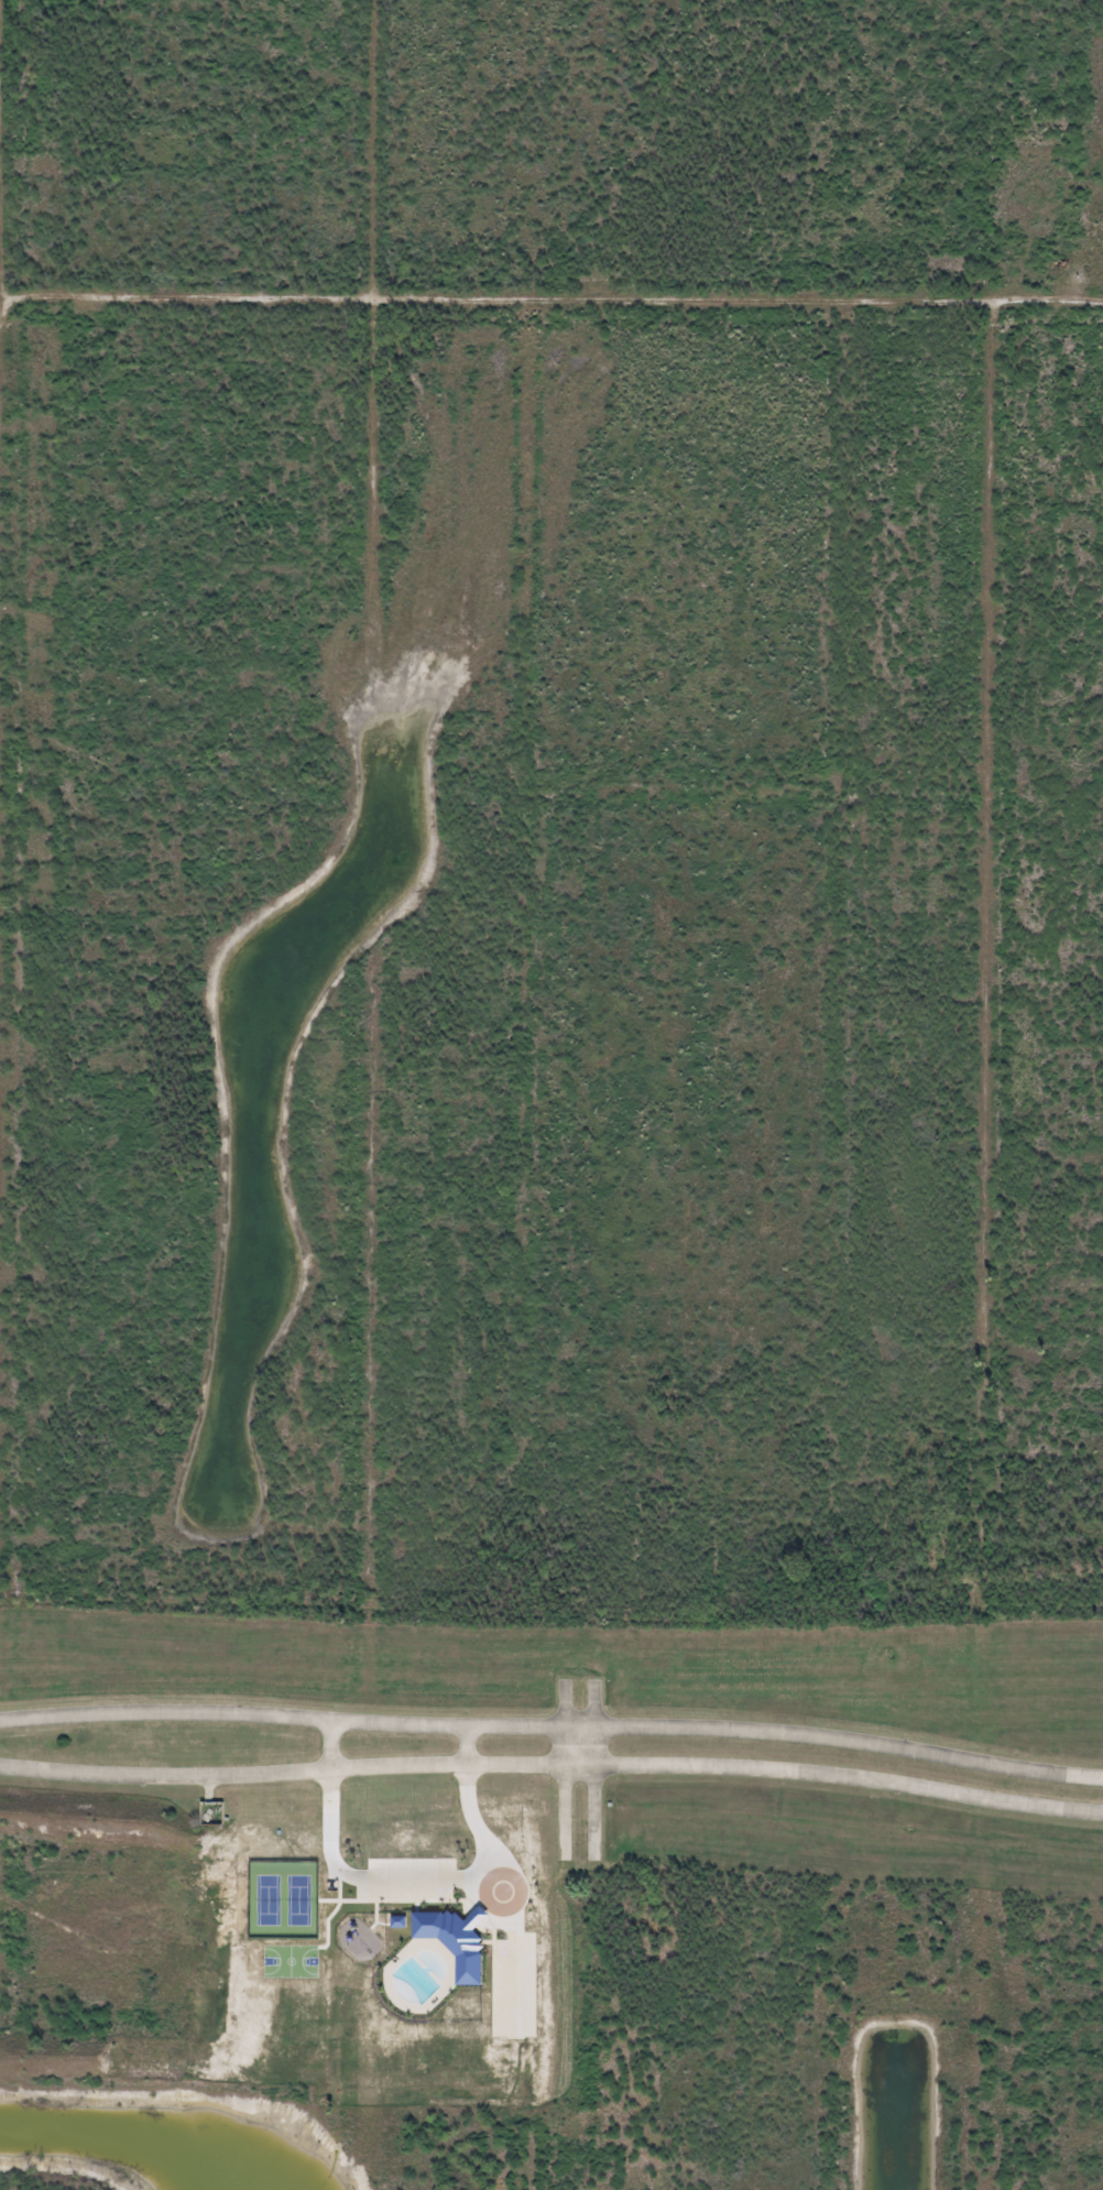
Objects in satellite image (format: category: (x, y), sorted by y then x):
road: (553, 1729)
road: (465, 1744)
road: (553, 1765)
road: (564, 1769)
road: (594, 1772)
road: (490, 1848)
road: (413, 1880)
parking lot: (411, 1881)
road: (340, 1897)
park: (283, 1900)
road: (343, 1902)
building: (397, 1922)
road: (383, 1925)
building: (454, 1940)
park: (291, 1962)
parking lot: (516, 1986)

